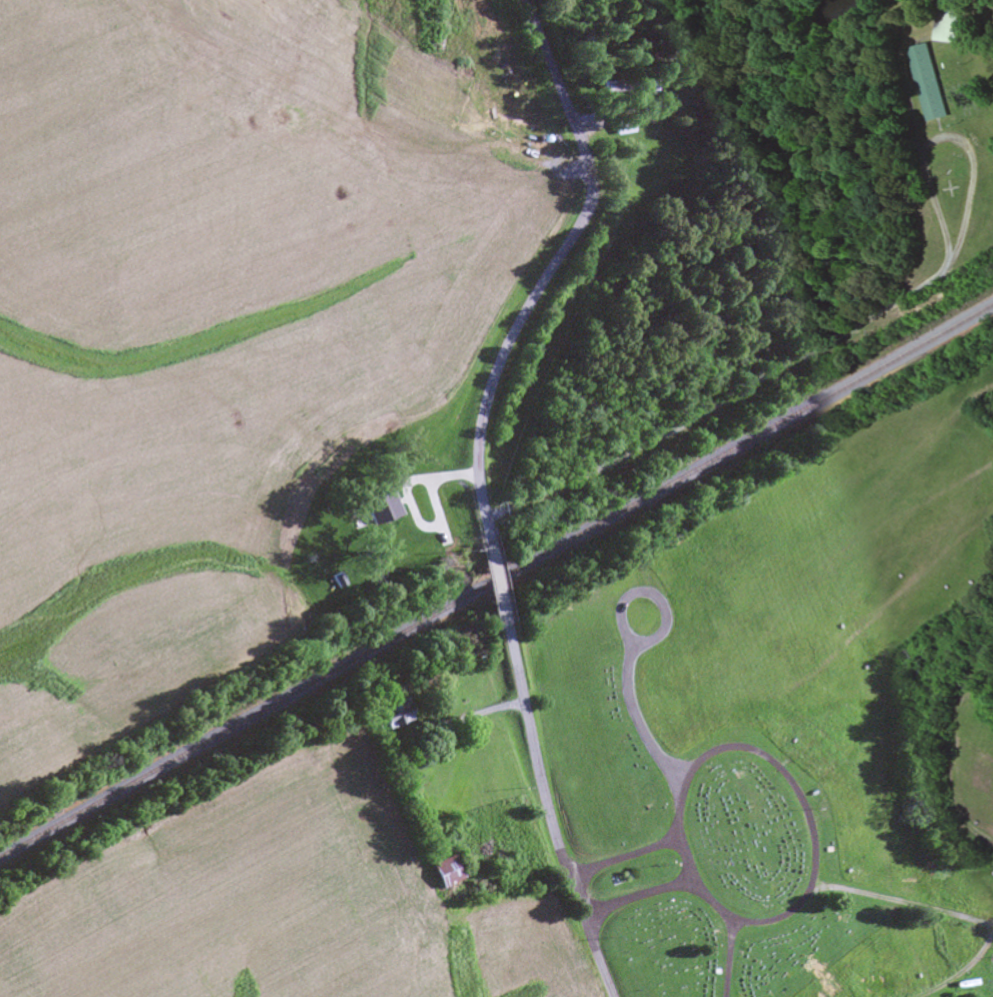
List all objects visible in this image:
building: (949, 20)
building: (928, 82)
building: (634, 86)
building: (618, 126)
road: (546, 267)
road: (720, 400)
railway: (496, 580)
road: (493, 581)
building: (392, 714)
park: (692, 813)
road: (549, 814)
road: (623, 856)
building: (443, 872)
road: (637, 896)
road: (901, 904)
road: (728, 916)
road: (728, 957)
road: (960, 973)

